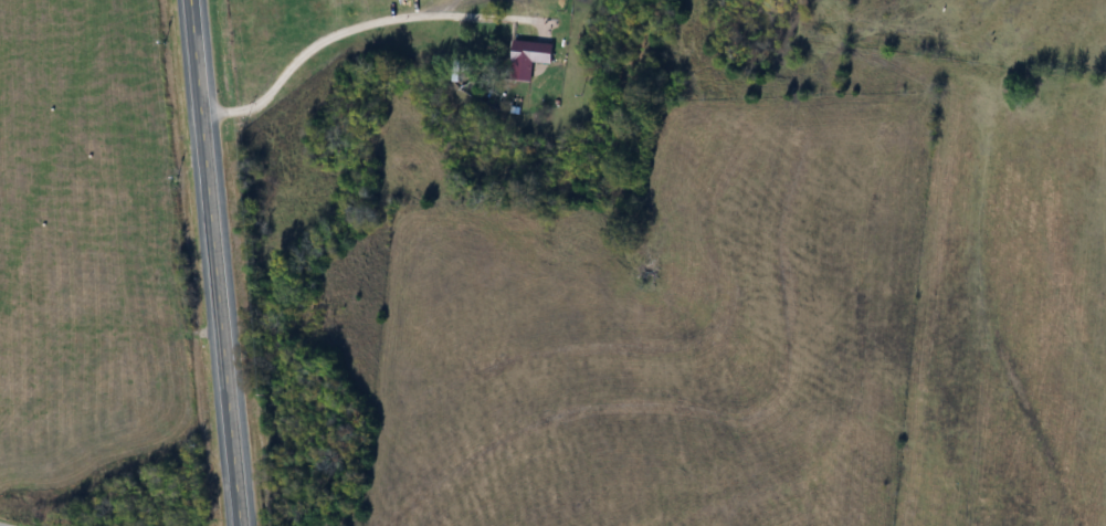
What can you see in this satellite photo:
road: (359, 24)
building: (529, 59)
road: (218, 262)

